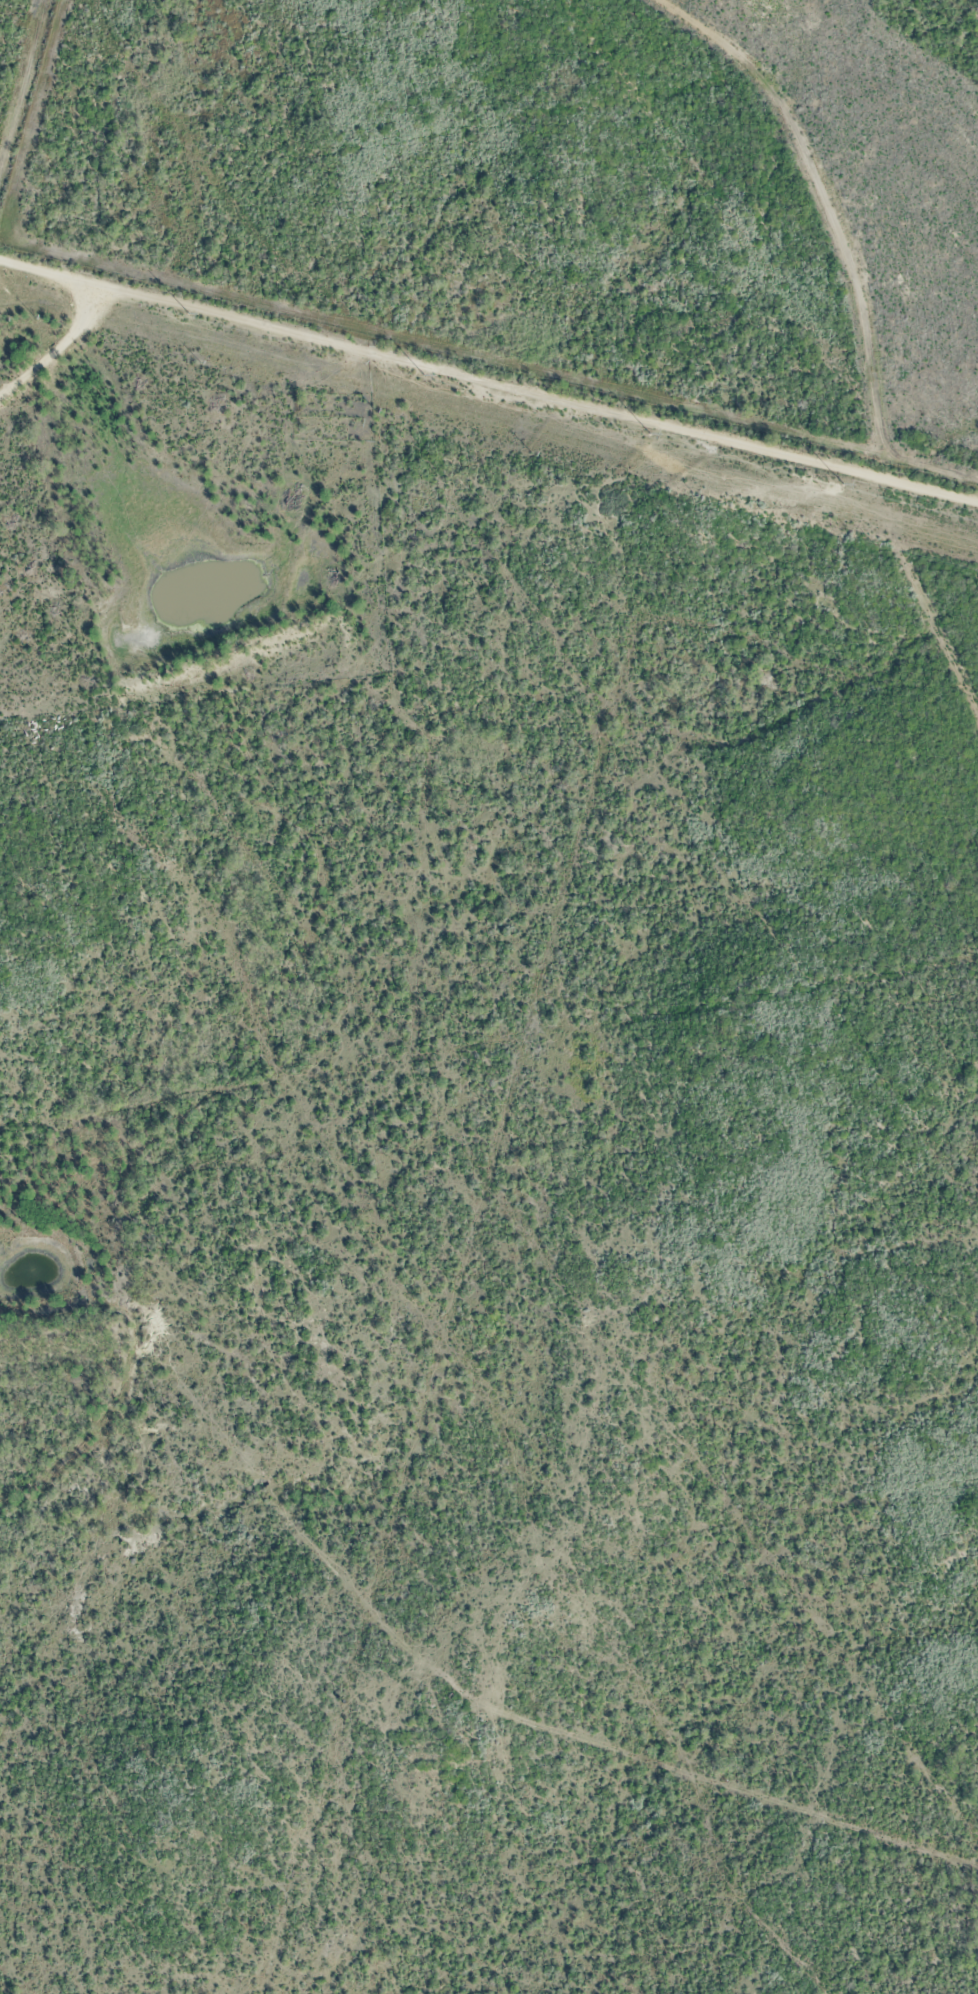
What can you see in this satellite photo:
power tower: (187, 313)
power tower: (426, 374)
road: (488, 381)
power tower: (651, 433)
power tower: (846, 483)

